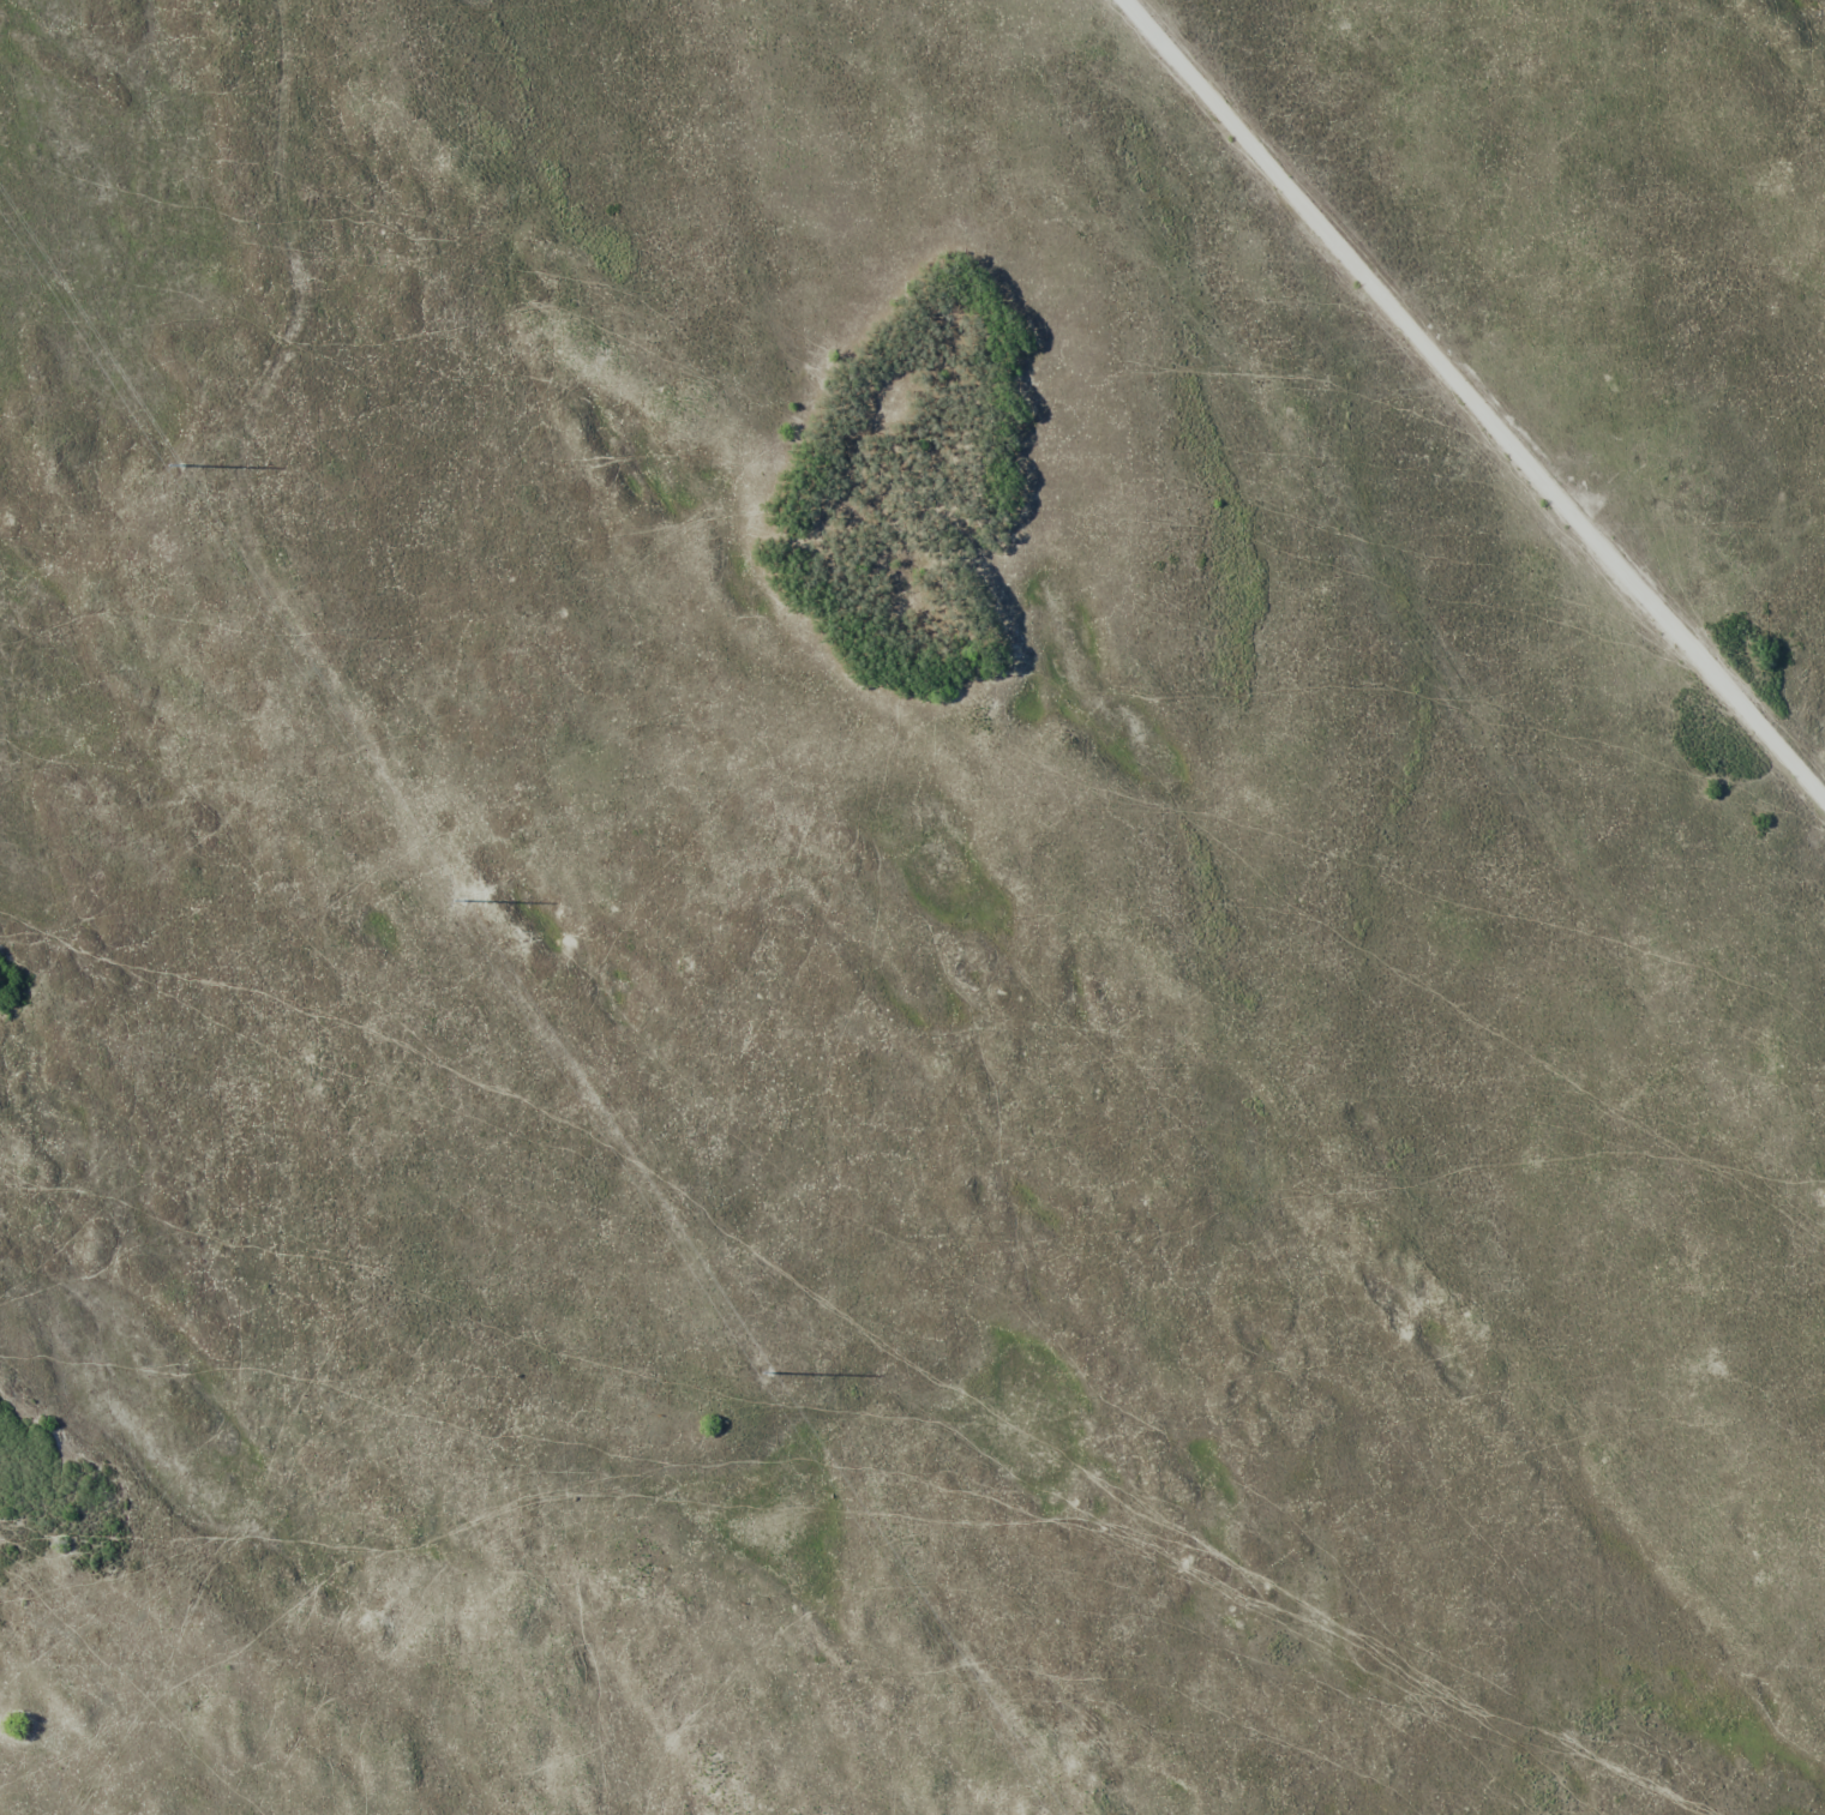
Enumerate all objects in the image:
road: (1481, 393)
power tower: (181, 467)
power tower: (463, 901)
power tower: (772, 1374)

